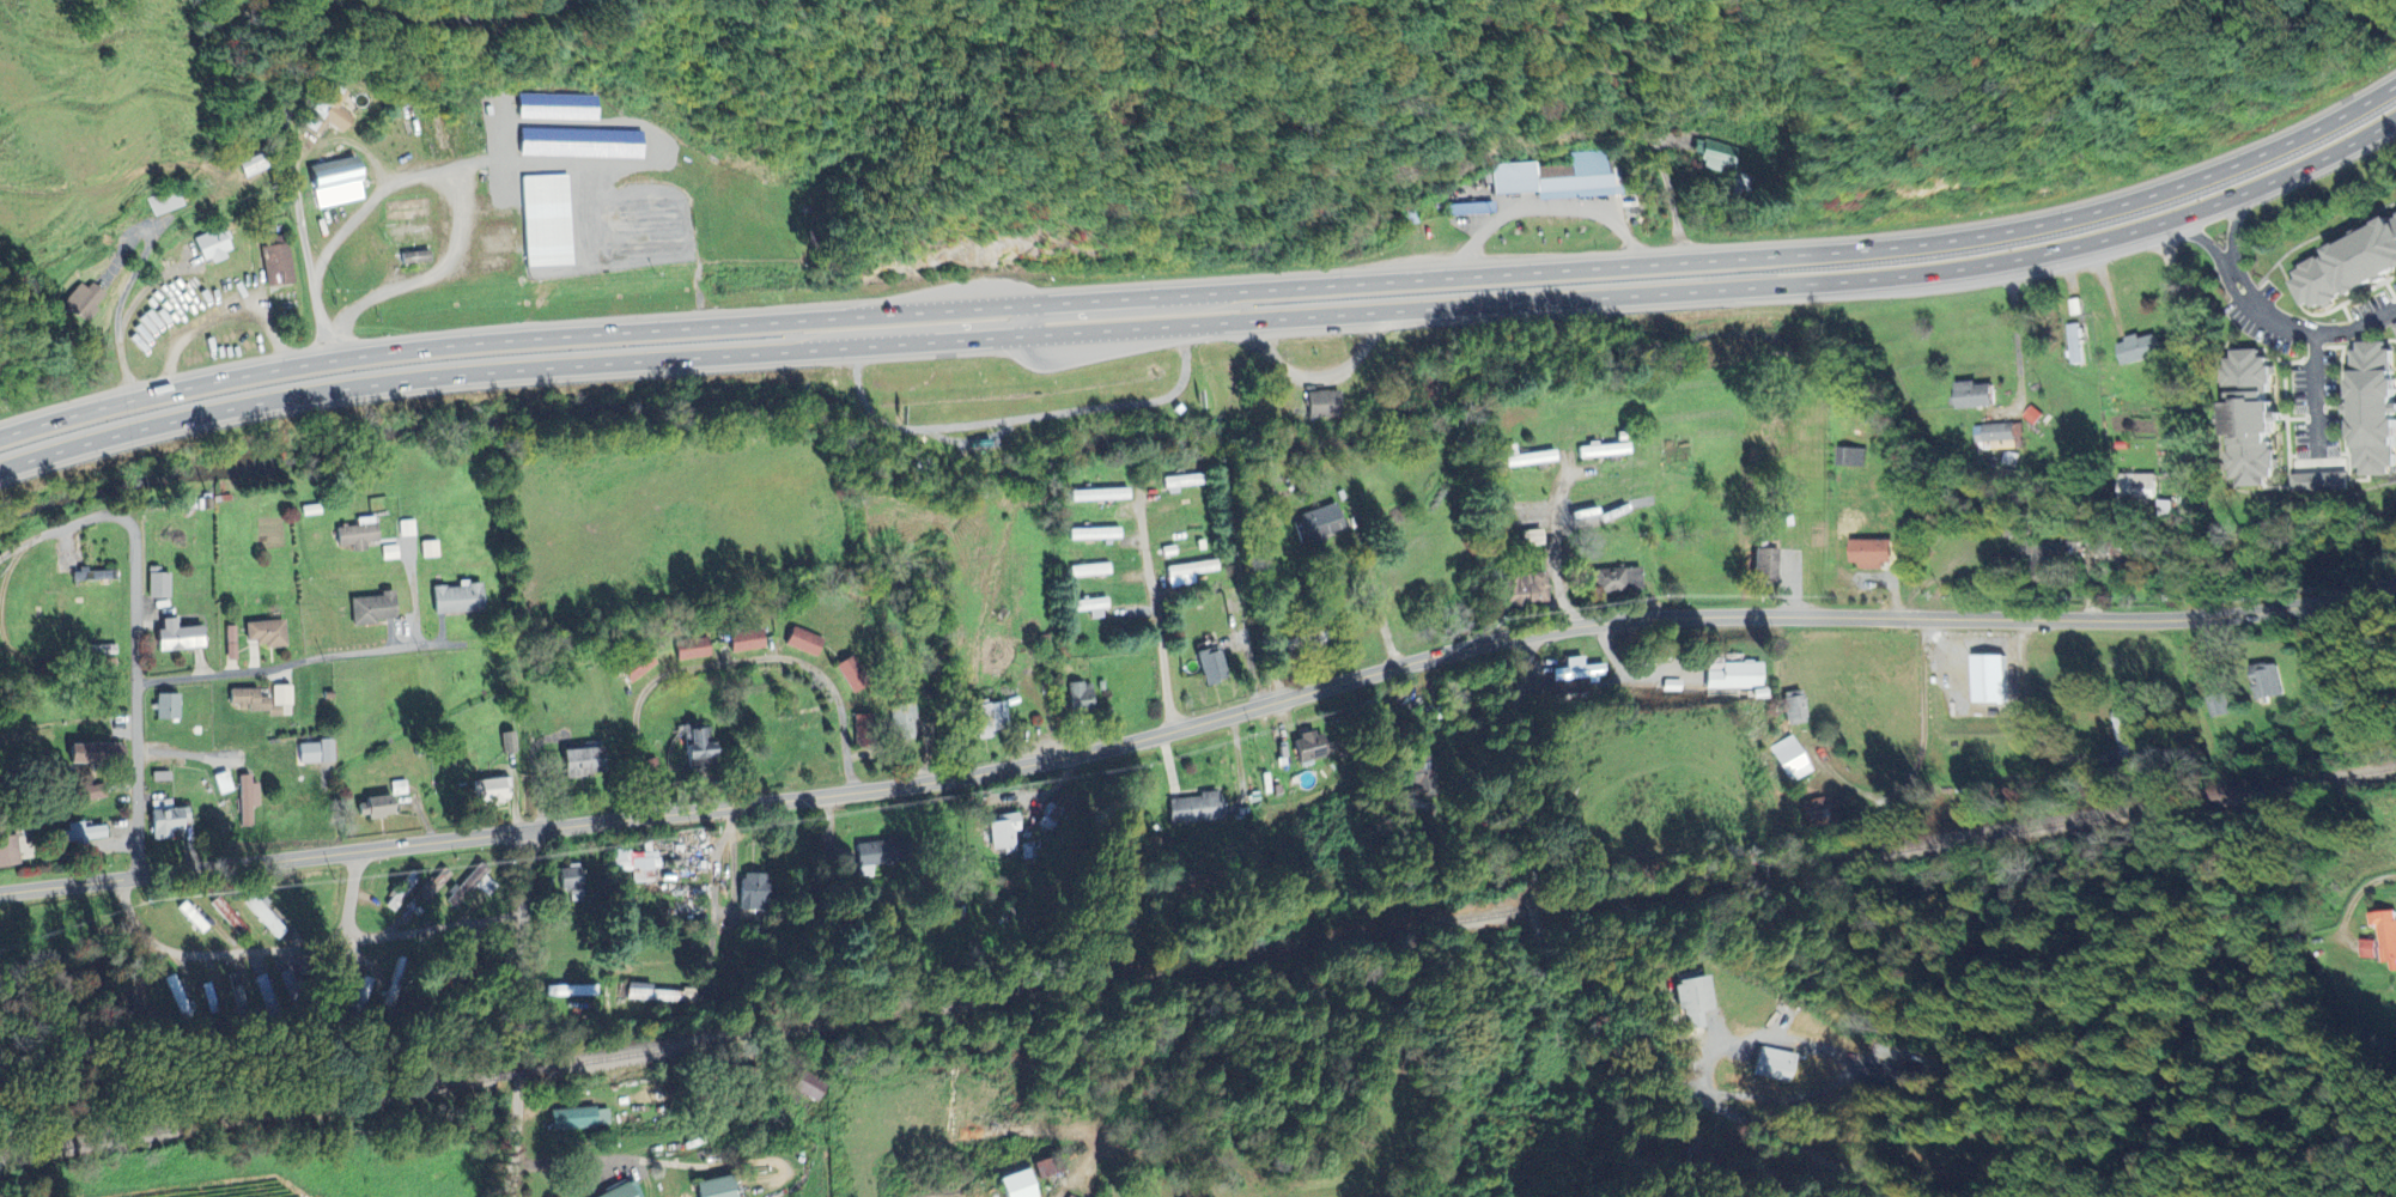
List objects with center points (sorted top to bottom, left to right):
road: (298, 51)
building: (557, 107)
building: (329, 113)
road: (349, 140)
road: (2278, 140)
building: (577, 142)
building: (1715, 154)
road: (464, 162)
road: (2287, 171)
building: (1557, 177)
building: (334, 182)
road: (1671, 190)
building: (543, 220)
road: (2233, 223)
road: (2202, 235)
building: (402, 236)
building: (209, 245)
building: (412, 257)
building: (2346, 263)
building: (276, 265)
road: (2233, 271)
road: (426, 273)
road: (2242, 286)
road: (1076, 299)
road: (124, 303)
building: (2394, 324)
road: (1084, 330)
road: (2317, 330)
building: (2072, 344)
building: (2134, 350)
road: (2316, 390)
building: (1968, 395)
building: (1319, 403)
building: (2367, 408)
building: (2030, 415)
building: (2244, 418)
building: (1601, 450)
building: (1847, 456)
building: (1527, 458)
building: (2316, 481)
building: (2134, 486)
building: (1096, 494)
building: (1315, 523)
road: (62, 524)
building: (353, 533)
building: (426, 548)
road: (1558, 549)
building: (1866, 553)
building: (2041, 557)
building: (1762, 564)
building: (1087, 569)
building: (1187, 570)
building: (1616, 579)
building: (157, 582)
road: (1388, 584)
building: (1525, 588)
road: (1247, 590)
building: (455, 597)
building: (1088, 606)
building: (369, 607)
road: (1157, 609)
road: (35, 621)
building: (263, 632)
building: (174, 634)
building: (743, 639)
building: (801, 639)
building: (229, 642)
building: (691, 648)
road: (729, 662)
building: (1209, 664)
building: (634, 666)
building: (1580, 670)
road: (1632, 670)
building: (850, 672)
building: (1732, 674)
road: (303, 676)
building: (1983, 679)
building: (2262, 680)
building: (1571, 687)
building: (1077, 695)
building: (259, 698)
building: (164, 705)
building: (2215, 705)
road: (134, 706)
building: (1795, 706)
building: (987, 717)
building: (900, 718)
road: (1199, 722)
building: (2124, 735)
building: (506, 741)
building: (695, 742)
building: (1305, 745)
building: (311, 751)
building: (92, 753)
road: (1917, 757)
building: (1794, 759)
building: (578, 760)
building: (1417, 772)
building: (221, 782)
building: (487, 789)
building: (87, 791)
building: (244, 800)
building: (375, 806)
building: (1191, 807)
building: (1817, 812)
building: (162, 820)
building: (80, 832)
building: (1002, 832)
building: (8, 850)
building: (871, 856)
building: (634, 862)
building: (568, 880)
building: (473, 881)
road: (2365, 882)
building: (433, 883)
road: (723, 883)
road: (355, 893)
building: (262, 915)
road: (437, 922)
building: (2384, 937)
building: (2364, 948)
road: (211, 955)
railway: (1198, 964)
road: (1593, 972)
building: (445, 973)
building: (233, 986)
building: (263, 989)
building: (560, 990)
building: (658, 994)
building: (1686, 996)
building: (208, 997)
road: (521, 1013)
building: (1772, 1063)
building: (805, 1084)
building: (578, 1117)
building: (1698, 1153)
building: (1011, 1184)
building: (711, 1186)
building: (619, 1190)
building: (1069, 1196)

